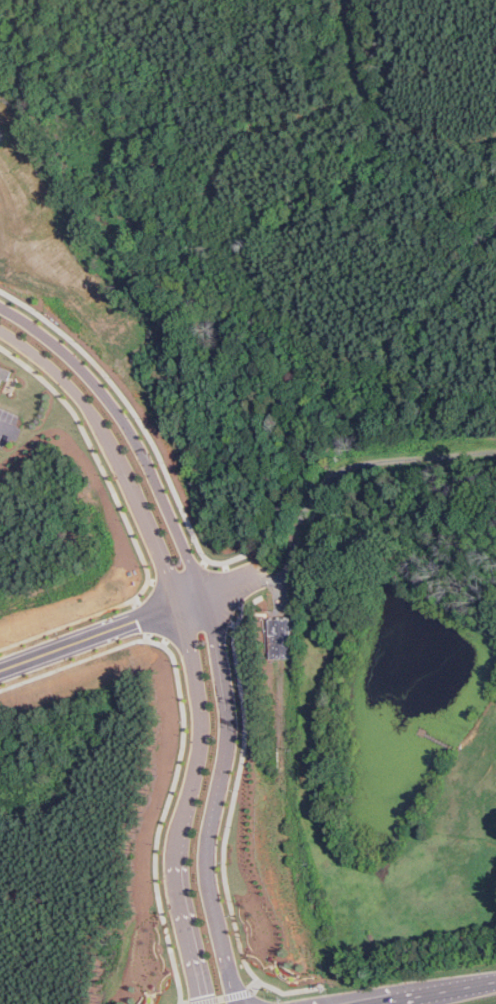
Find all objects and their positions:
building: (4, 372)
road: (5, 426)
road: (321, 486)
road: (185, 599)
road: (205, 622)
road: (85, 634)
building: (279, 638)
road: (179, 642)
road: (440, 993)

